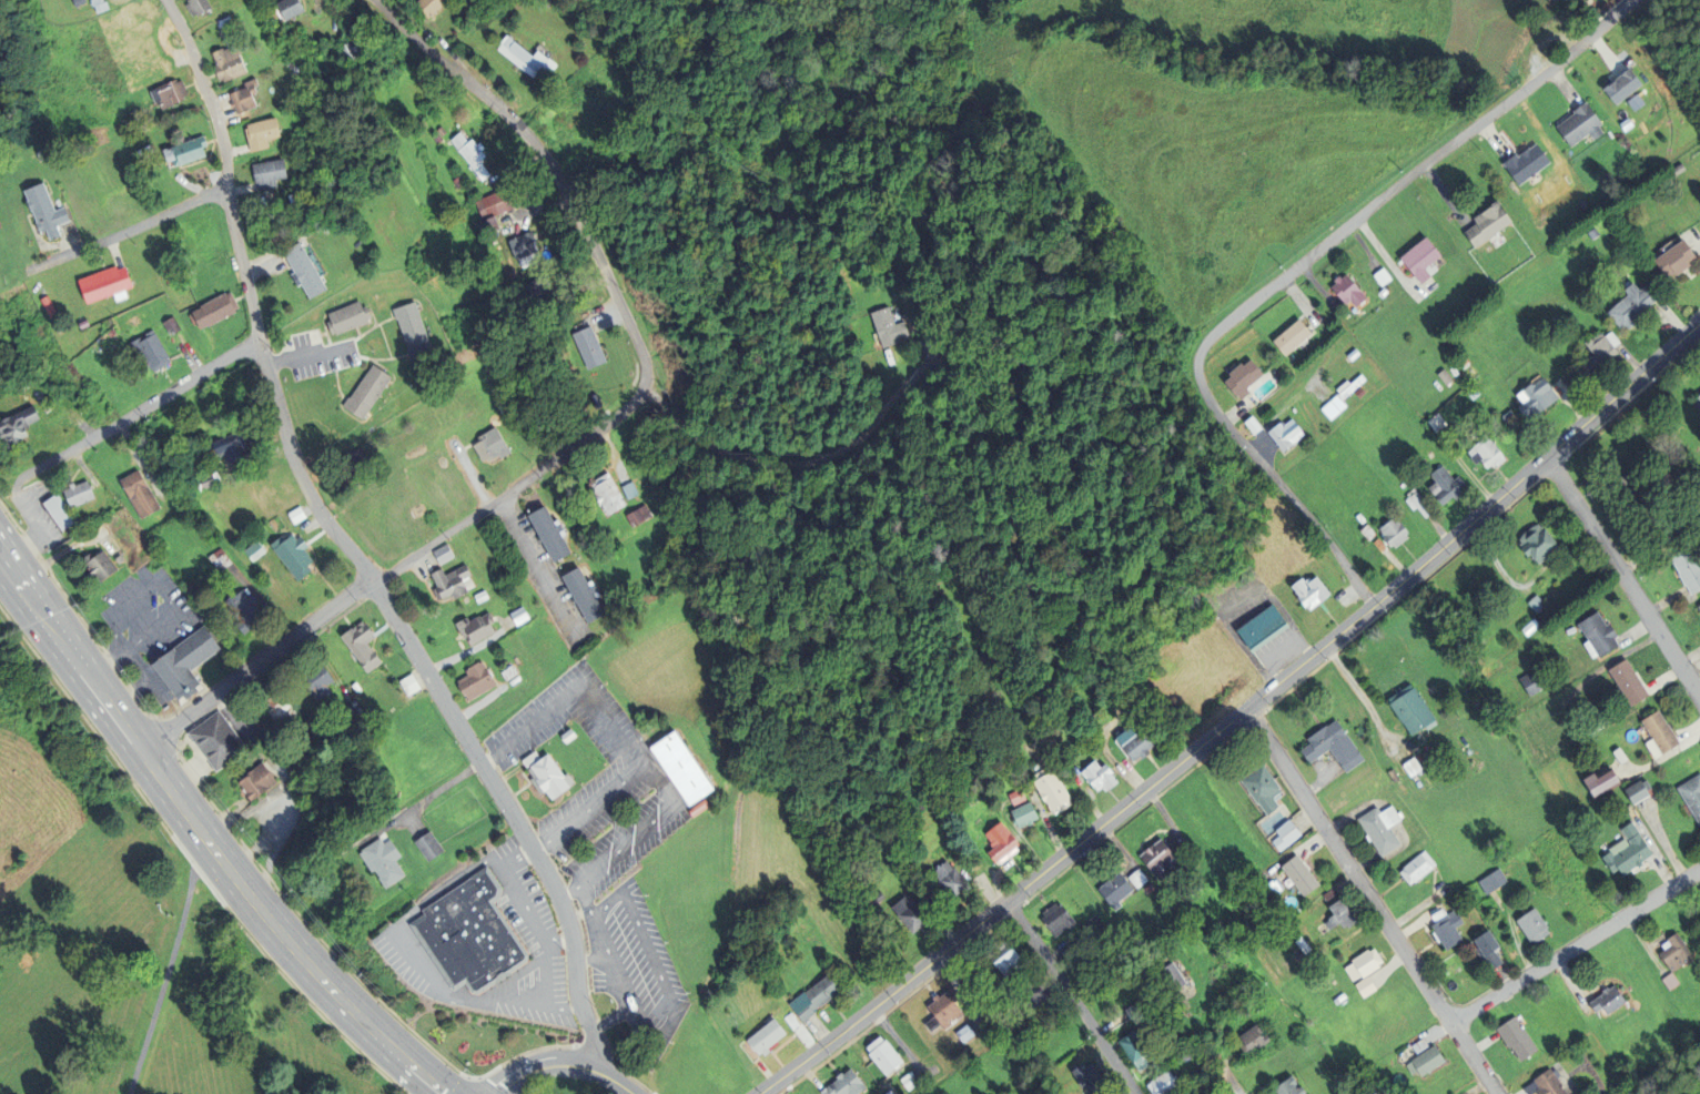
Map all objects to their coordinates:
building: (91, 2)
building: (426, 4)
building: (192, 6)
building: (285, 9)
building: (222, 30)
road: (1571, 52)
building: (347, 54)
building: (523, 59)
building: (223, 62)
building: (1620, 84)
building: (168, 93)
building: (241, 98)
building: (557, 118)
building: (1578, 124)
building: (256, 135)
crop: (1217, 135)
building: (184, 151)
building: (468, 154)
building: (1525, 163)
road: (553, 164)
building: (1678, 169)
building: (263, 174)
building: (118, 203)
building: (493, 203)
building: (42, 211)
building: (1486, 223)
building: (485, 224)
road: (135, 227)
building: (321, 227)
building: (1592, 233)
road: (1334, 236)
building: (520, 249)
building: (1418, 257)
building: (1673, 259)
building: (300, 271)
building: (1380, 276)
building: (101, 284)
building: (535, 288)
building: (1346, 291)
building: (1382, 292)
building: (1631, 304)
building: (44, 307)
building: (212, 310)
building: (344, 317)
building: (168, 324)
building: (1555, 325)
building: (890, 327)
building: (412, 334)
building: (1289, 337)
building: (584, 345)
building: (144, 348)
building: (1598, 353)
road: (308, 355)
building: (1292, 356)
building: (1464, 362)
building: (1365, 367)
building: (1450, 367)
building: (1345, 374)
building: (1444, 376)
building: (1241, 378)
building: (363, 391)
building: (1358, 392)
building: (1471, 393)
building: (1339, 396)
building: (1534, 398)
building: (1697, 401)
road: (142, 412)
building: (1507, 415)
building: (1435, 422)
building: (1251, 425)
building: (17, 427)
building: (199, 427)
building: (1283, 434)
building: (229, 444)
building: (488, 444)
building: (1484, 450)
building: (261, 454)
road: (1253, 454)
road: (796, 462)
building: (202, 479)
building: (1444, 486)
road: (16, 487)
building: (626, 488)
building: (75, 493)
building: (136, 493)
building: (603, 493)
building: (1639, 499)
building: (1417, 503)
building: (294, 514)
building: (635, 514)
building: (59, 515)
building: (1359, 518)
building: (546, 533)
building: (1366, 533)
building: (1392, 533)
road: (43, 535)
building: (1536, 544)
building: (1378, 546)
road: (348, 548)
building: (252, 549)
building: (292, 554)
building: (117, 556)
building: (445, 557)
building: (216, 559)
road: (1342, 559)
road: (1428, 560)
building: (97, 564)
road: (538, 566)
building: (1687, 568)
road: (395, 571)
road: (1623, 575)
building: (451, 585)
building: (1307, 591)
building: (579, 594)
road: (31, 595)
building: (482, 600)
building: (1536, 605)
building: (241, 608)
building: (1699, 608)
building: (520, 620)
building: (1258, 627)
building: (1529, 627)
building: (477, 631)
building: (1597, 636)
building: (360, 645)
building: (183, 659)
road: (140, 665)
building: (506, 671)
building: (473, 680)
building: (314, 681)
building: (1530, 683)
building: (1627, 683)
building: (407, 685)
building: (1106, 687)
road: (570, 698)
building: (273, 707)
building: (352, 708)
building: (1409, 710)
building: (1593, 729)
building: (566, 735)
building: (1658, 736)
building: (214, 741)
building: (1139, 744)
building: (1333, 746)
building: (1410, 768)
building: (1102, 772)
building: (685, 773)
building: (544, 774)
building: (254, 781)
building: (1598, 784)
building: (1266, 786)
building: (1054, 787)
road: (664, 790)
building: (1636, 792)
building: (1020, 796)
building: (1691, 796)
road: (426, 799)
crop: (33, 809)
building: (1025, 812)
building: (1384, 827)
building: (1287, 832)
building: (1003, 842)
building: (429, 848)
road: (215, 851)
building: (1626, 851)
building: (1157, 859)
road: (517, 861)
building: (384, 863)
building: (1419, 865)
building: (1303, 873)
building: (952, 877)
building: (1135, 879)
building: (1496, 880)
building: (1146, 889)
building: (1112, 891)
building: (1333, 892)
building: (878, 898)
road: (1373, 901)
building: (912, 912)
building: (1344, 913)
building: (1055, 920)
building: (1537, 923)
building: (1092, 924)
building: (1450, 928)
building: (1150, 930)
building: (1224, 930)
road: (393, 931)
building: (473, 936)
building: (1121, 938)
road: (959, 942)
road: (560, 943)
building: (1303, 943)
road: (1576, 945)
building: (1491, 948)
building: (1672, 951)
building: (1299, 952)
building: (1003, 959)
road: (594, 960)
building: (1366, 962)
road: (171, 966)
road: (522, 974)
road: (548, 976)
building: (1133, 976)
building: (1167, 977)
building: (1669, 981)
building: (1368, 984)
building: (817, 997)
building: (1343, 997)
road: (1071, 999)
building: (1612, 999)
building: (947, 1009)
building: (1132, 1009)
road: (614, 1019)
building: (793, 1020)
building: (967, 1032)
road: (666, 1034)
flagpole: (482, 1036)
building: (767, 1036)
building: (1173, 1036)
building: (1520, 1036)
building: (1248, 1040)
building: (1165, 1049)
building: (1134, 1050)
building: (1581, 1050)
building: (880, 1055)
building: (1183, 1055)
building: (1428, 1058)
road: (544, 1067)
road: (417, 1071)
road: (1225, 1073)
building: (1369, 1074)
building: (1085, 1077)
road: (614, 1081)
building: (907, 1081)
building: (1161, 1083)
building: (1552, 1083)
building: (848, 1084)
building: (1285, 1087)
building: (886, 1092)
road: (763, 1093)
building: (1377, 1093)

